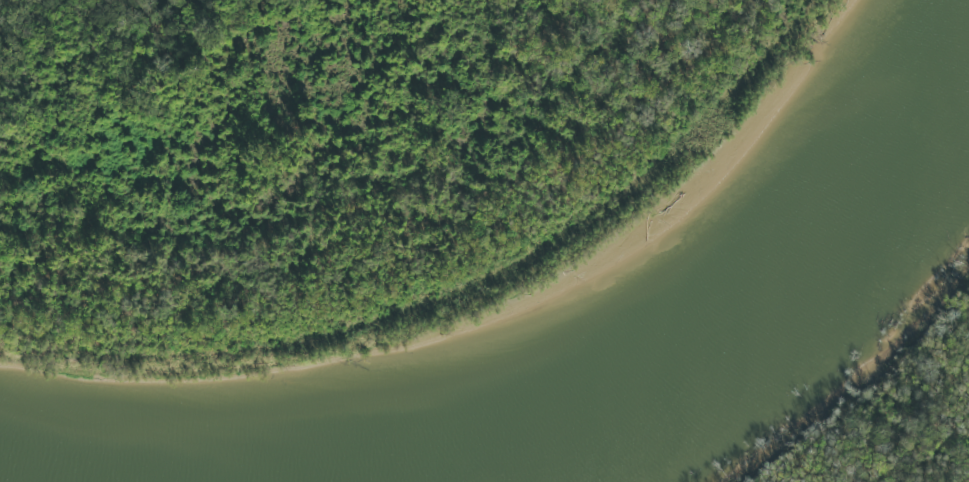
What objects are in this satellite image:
river: (647, 332)
river: (102, 475)

